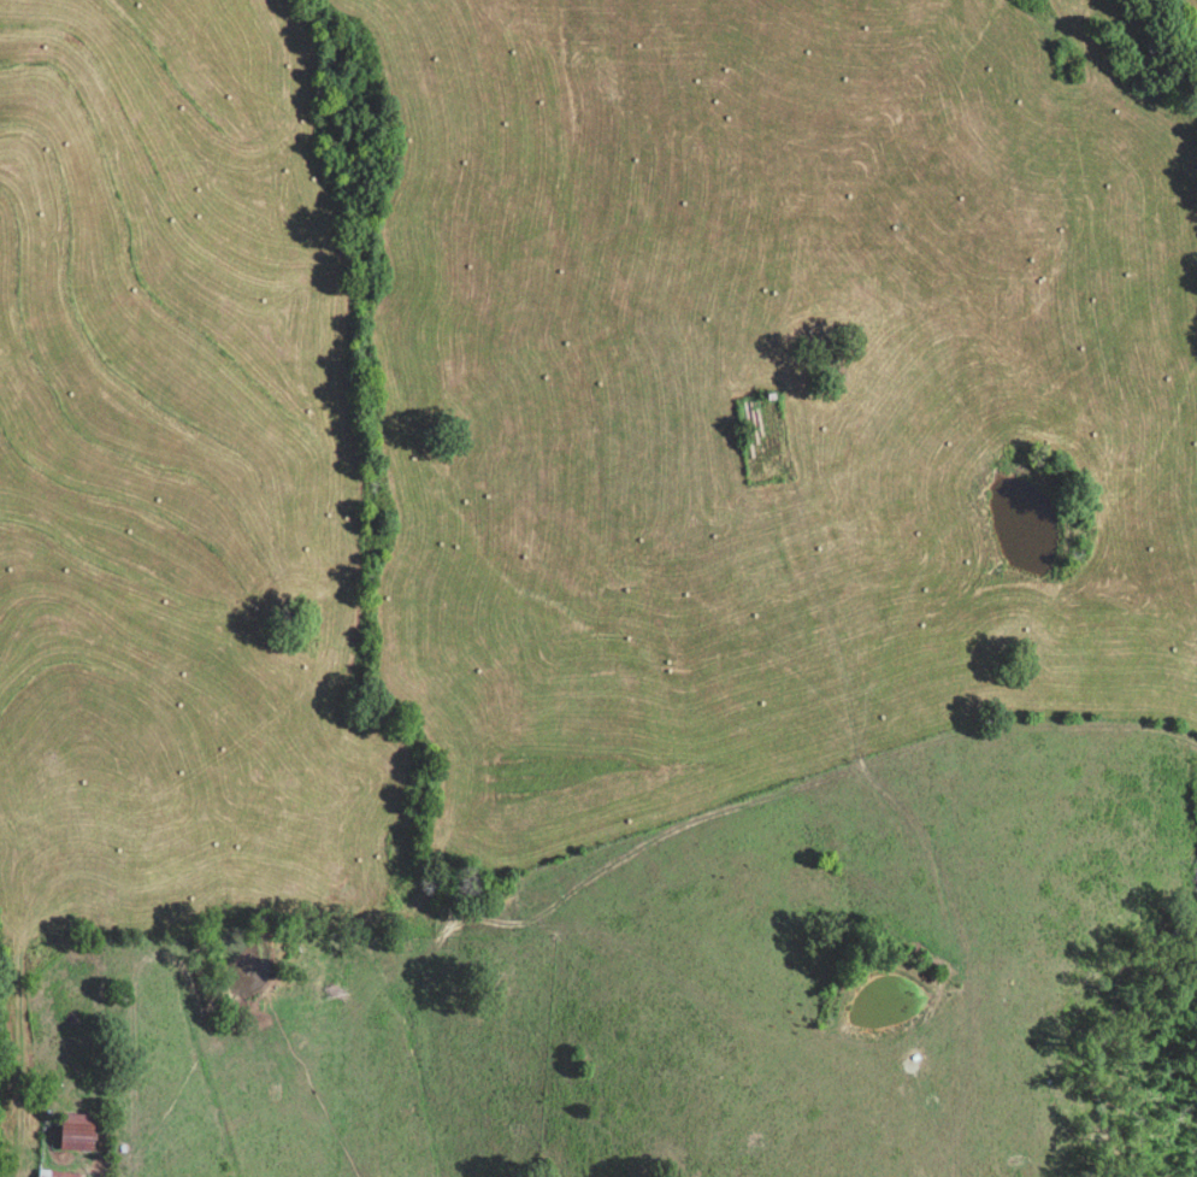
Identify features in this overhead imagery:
building: (60, 1173)

